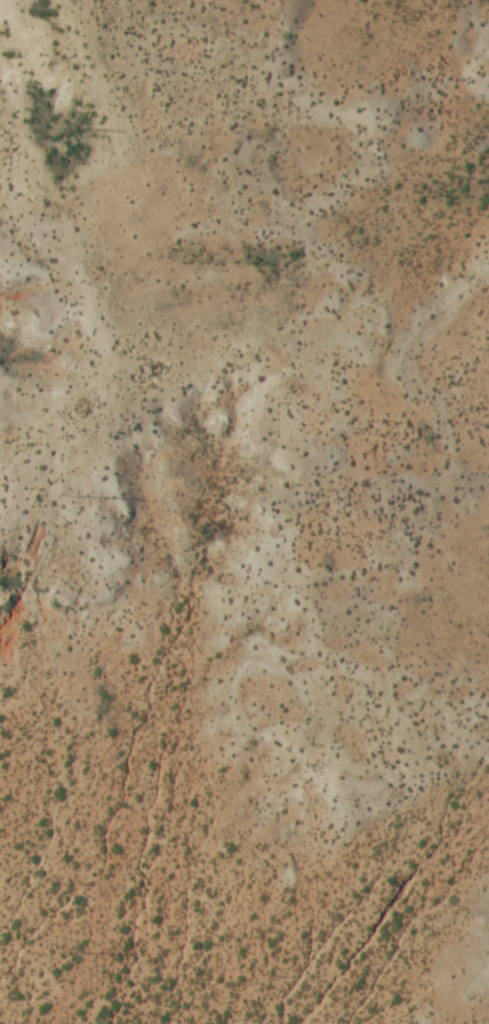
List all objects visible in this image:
power tower: (70, 128)
power tower: (72, 497)
power tower: (71, 954)

